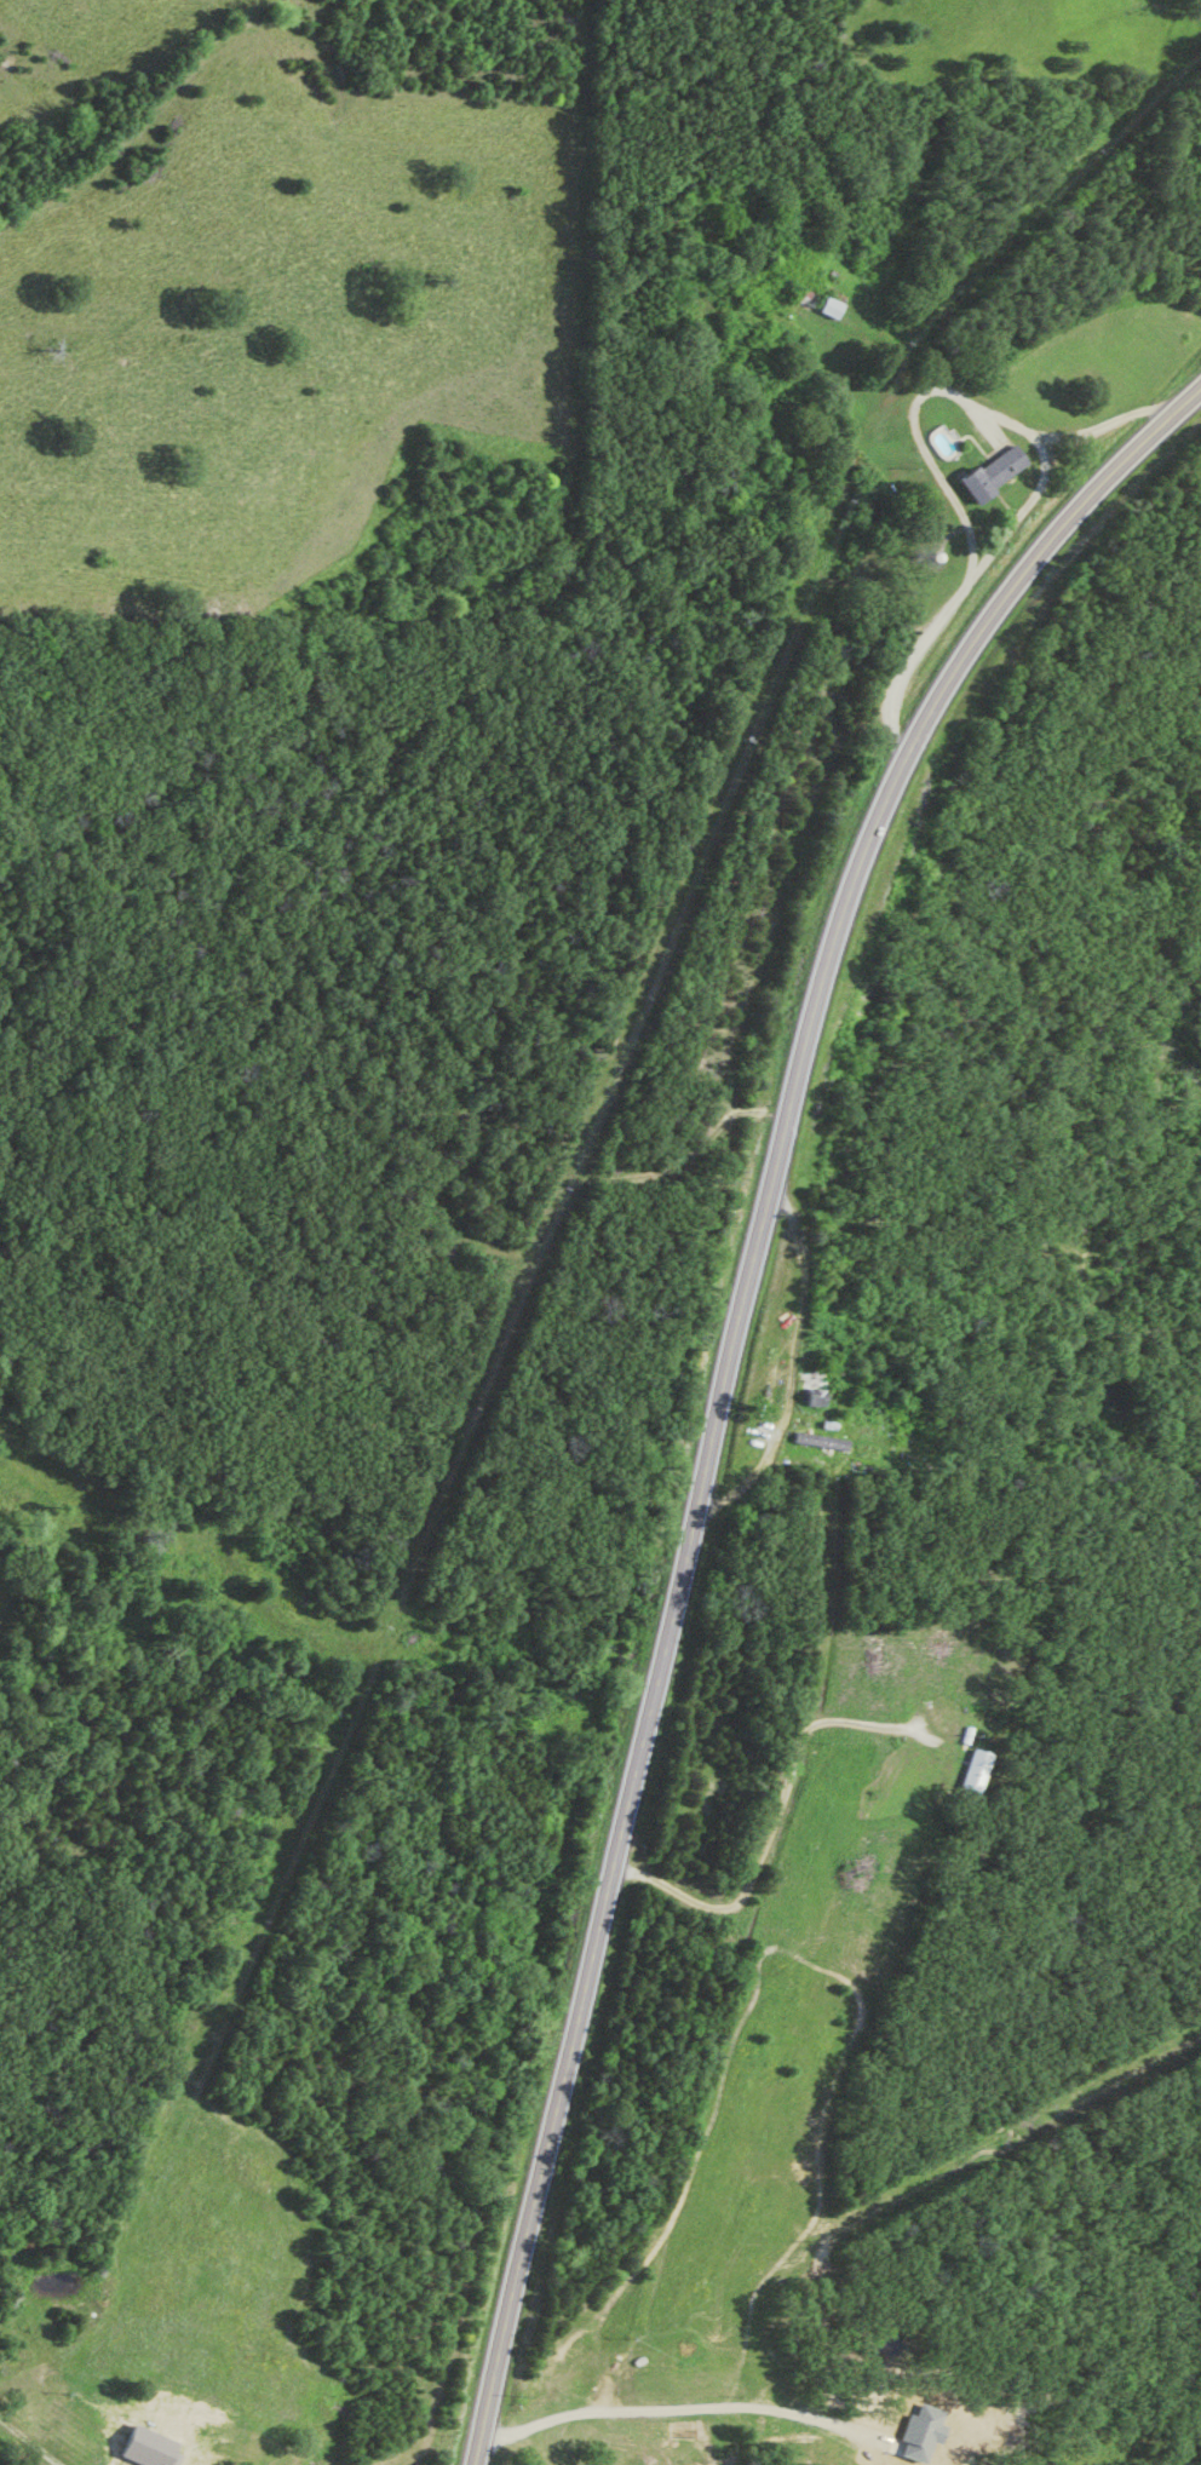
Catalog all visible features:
building: (826, 310)
building: (984, 475)
road: (726, 1375)
building: (811, 1392)
building: (818, 1443)
building: (972, 1775)

